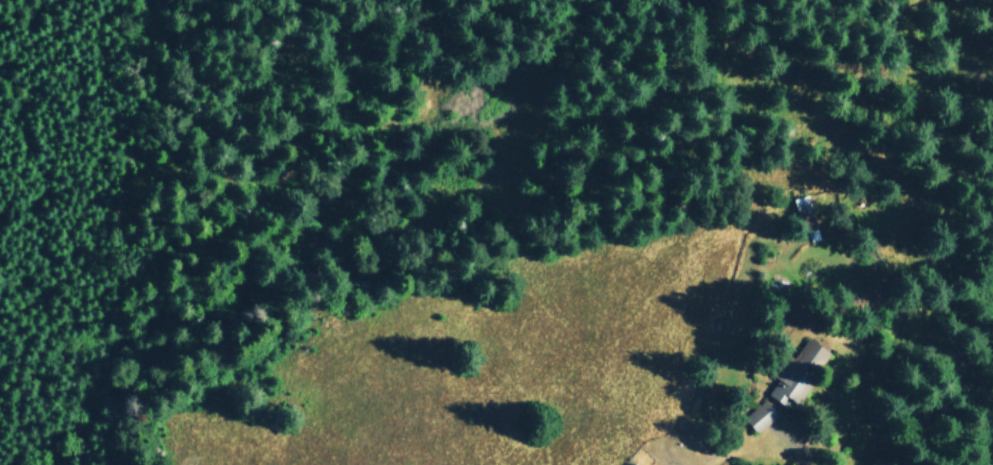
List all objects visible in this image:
building: (804, 213)
building: (797, 373)
building: (760, 415)
road: (742, 445)
building: (633, 464)

